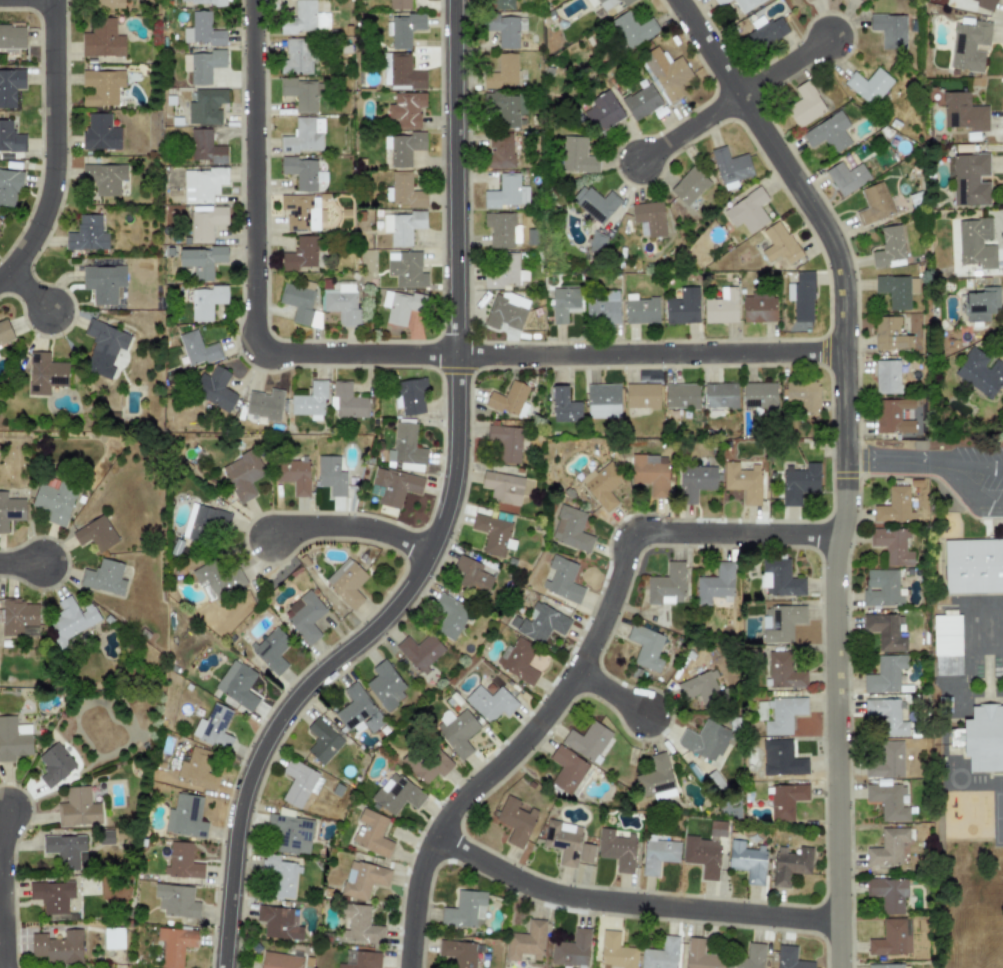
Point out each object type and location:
building: (806, 0)
building: (202, 2)
building: (720, 2)
building: (108, 3)
building: (984, 3)
building: (398, 4)
building: (500, 4)
building: (613, 4)
building: (745, 5)
building: (304, 19)
building: (404, 29)
building: (502, 29)
building: (633, 29)
building: (202, 30)
building: (889, 30)
building: (765, 33)
building: (12, 37)
building: (102, 39)
building: (968, 45)
building: (296, 56)
building: (202, 65)
road: (783, 67)
building: (402, 72)
building: (502, 72)
building: (666, 73)
building: (868, 85)
building: (10, 86)
building: (101, 87)
building: (301, 94)
building: (641, 102)
building: (804, 105)
building: (206, 106)
building: (505, 107)
building: (406, 110)
building: (602, 112)
building: (962, 112)
road: (689, 128)
building: (100, 132)
building: (828, 133)
building: (304, 135)
building: (10, 138)
road: (53, 146)
building: (205, 147)
building: (403, 147)
building: (499, 151)
building: (576, 155)
building: (730, 165)
building: (300, 172)
road: (253, 176)
building: (846, 177)
building: (103, 178)
building: (968, 179)
building: (202, 184)
building: (689, 186)
building: (9, 187)
building: (503, 190)
building: (402, 191)
building: (523, 195)
building: (595, 203)
building: (873, 204)
building: (747, 211)
building: (300, 212)
building: (649, 217)
building: (206, 223)
building: (402, 226)
building: (500, 227)
building: (86, 234)
building: (597, 240)
building: (975, 243)
building: (778, 244)
building: (888, 246)
building: (302, 253)
building: (201, 260)
building: (405, 269)
building: (504, 273)
road: (455, 279)
building: (102, 282)
building: (893, 290)
road: (27, 291)
building: (801, 296)
building: (341, 301)
building: (206, 302)
building: (565, 302)
building: (979, 303)
building: (401, 306)
building: (682, 307)
building: (721, 307)
building: (758, 308)
building: (603, 309)
building: (640, 309)
building: (505, 312)
building: (4, 331)
building: (890, 334)
building: (103, 348)
building: (197, 349)
road: (548, 354)
building: (979, 371)
building: (45, 373)
building: (886, 377)
building: (214, 389)
building: (720, 395)
building: (758, 395)
building: (803, 395)
building: (410, 396)
building: (641, 396)
building: (681, 396)
building: (507, 398)
building: (310, 401)
building: (347, 401)
building: (603, 401)
building: (264, 404)
building: (564, 406)
building: (892, 416)
building: (506, 442)
building: (405, 445)
road: (844, 461)
road: (893, 462)
road: (972, 465)
building: (650, 473)
building: (242, 475)
building: (294, 475)
building: (331, 475)
building: (742, 481)
building: (694, 482)
building: (798, 483)
building: (602, 485)
building: (503, 487)
road: (970, 492)
building: (53, 503)
building: (894, 504)
building: (10, 510)
building: (203, 522)
road: (351, 526)
building: (571, 529)
building: (492, 533)
building: (95, 534)
building: (892, 545)
road: (20, 562)
building: (975, 562)
building: (472, 575)
building: (104, 577)
building: (779, 578)
building: (216, 580)
building: (562, 580)
building: (346, 582)
building: (715, 584)
building: (667, 585)
building: (881, 587)
building: (449, 615)
building: (304, 616)
building: (20, 617)
building: (72, 618)
building: (780, 622)
building: (540, 623)
building: (886, 631)
building: (950, 643)
building: (645, 647)
building: (271, 650)
building: (420, 651)
building: (518, 661)
road: (577, 668)
building: (783, 671)
building: (885, 674)
building: (237, 685)
building: (385, 685)
building: (700, 688)
road: (610, 693)
building: (490, 702)
building: (358, 710)
building: (783, 714)
building: (888, 715)
building: (213, 727)
building: (456, 731)
road: (269, 733)
building: (983, 737)
building: (12, 740)
building: (322, 740)
building: (586, 740)
building: (705, 740)
building: (781, 758)
building: (885, 761)
building: (425, 762)
building: (54, 764)
building: (197, 769)
building: (566, 770)
building: (655, 778)
building: (297, 783)
building: (396, 794)
building: (786, 800)
building: (889, 801)
building: (77, 808)
building: (185, 816)
building: (516, 820)
building: (717, 829)
building: (290, 833)
building: (371, 833)
building: (563, 841)
building: (888, 847)
building: (616, 849)
building: (65, 851)
building: (585, 853)
building: (658, 855)
building: (702, 856)
building: (747, 861)
building: (182, 862)
building: (789, 865)
building: (280, 876)
building: (363, 879)
road: (1, 888)
building: (887, 893)
building: (51, 895)
building: (176, 900)
road: (630, 903)
building: (464, 909)
building: (278, 922)
building: (359, 924)
building: (113, 938)
building: (891, 938)
building: (527, 942)
building: (175, 945)
building: (57, 946)
building: (572, 950)
building: (458, 952)
building: (615, 952)
building: (661, 954)
building: (700, 955)
building: (747, 957)
building: (789, 958)
building: (360, 959)
building: (280, 960)
building: (888, 966)

